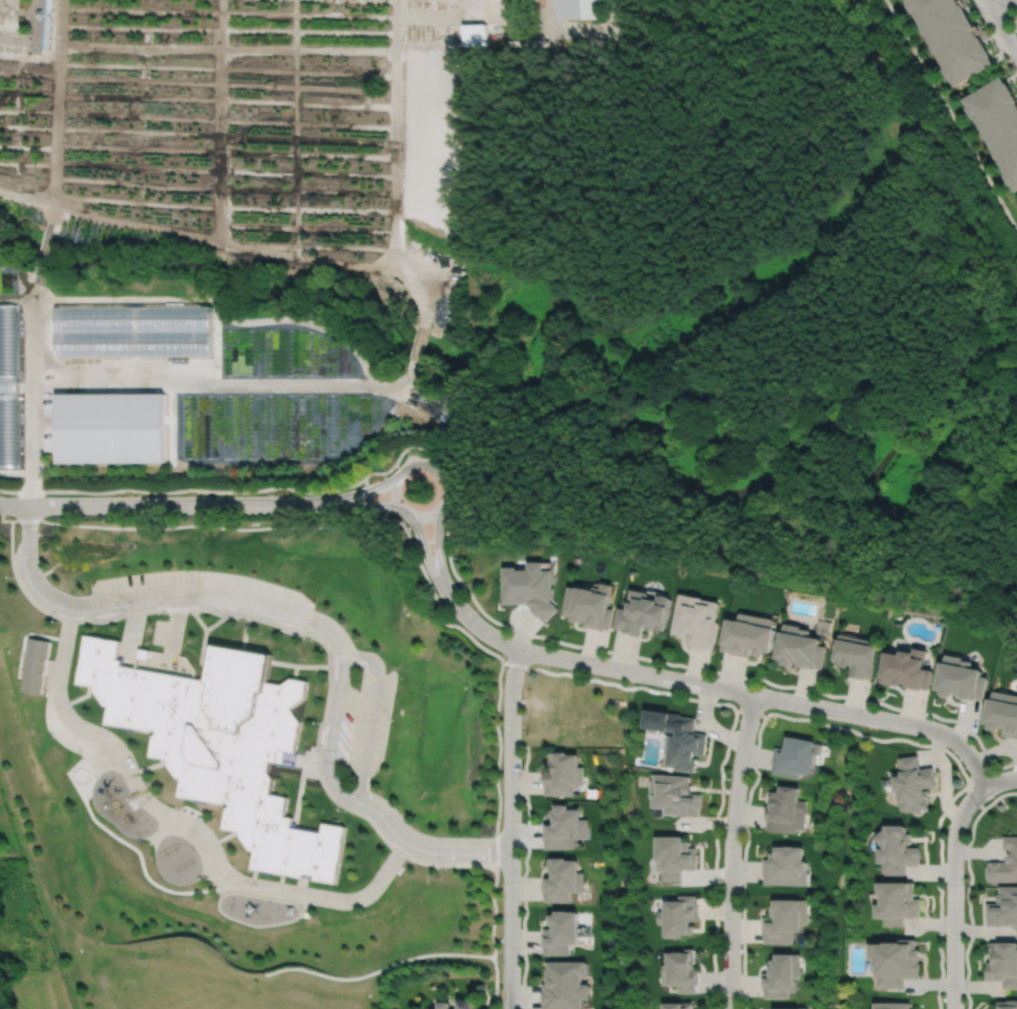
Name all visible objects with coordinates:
road: (993, 1)
building: (574, 9)
building: (45, 22)
road: (1001, 27)
building: (1016, 35)
building: (953, 37)
building: (998, 123)
road: (395, 166)
building: (134, 330)
road: (416, 343)
road: (32, 384)
road: (236, 385)
building: (110, 426)
building: (8, 429)
road: (275, 488)
road: (349, 495)
road: (370, 496)
road: (150, 504)
road: (398, 506)
road: (350, 507)
road: (213, 526)
road: (438, 549)
road: (425, 553)
building: (529, 588)
parking lot: (202, 594)
building: (589, 605)
building: (642, 613)
road: (321, 617)
road: (218, 621)
building: (695, 621)
road: (247, 622)
road: (311, 625)
road: (479, 626)
road: (174, 627)
road: (132, 633)
road: (304, 634)
building: (748, 635)
road: (23, 637)
road: (244, 640)
road: (204, 643)
building: (800, 648)
road: (24, 649)
road: (25, 655)
building: (857, 655)
building: (35, 666)
road: (300, 666)
road: (22, 670)
building: (907, 670)
road: (717, 671)
road: (296, 672)
building: (959, 680)
road: (47, 684)
road: (767, 697)
road: (79, 698)
road: (749, 711)
building: (1002, 714)
parking lot: (360, 721)
road: (845, 728)
road: (498, 737)
road: (729, 738)
building: (221, 745)
building: (684, 745)
building: (795, 758)
road: (300, 761)
road: (148, 767)
road: (980, 772)
building: (562, 774)
road: (1002, 780)
building: (914, 785)
road: (299, 795)
road: (355, 795)
building: (674, 796)
road: (974, 798)
building: (786, 811)
road: (187, 822)
road: (510, 828)
building: (563, 828)
road: (225, 838)
road: (122, 840)
road: (731, 851)
building: (898, 851)
building: (674, 858)
building: (1005, 864)
building: (786, 868)
road: (524, 876)
road: (254, 878)
building: (562, 881)
road: (281, 883)
road: (302, 884)
road: (968, 889)
road: (954, 891)
building: (899, 902)
building: (1003, 908)
building: (678, 916)
building: (784, 920)
building: (560, 931)
building: (895, 960)
building: (1003, 962)
building: (680, 969)
road: (379, 970)
building: (781, 974)
building: (563, 984)
building: (1007, 1004)
building: (677, 1005)
building: (891, 1005)
building: (465, 1006)
building: (446, 1007)
building: (789, 1008)

